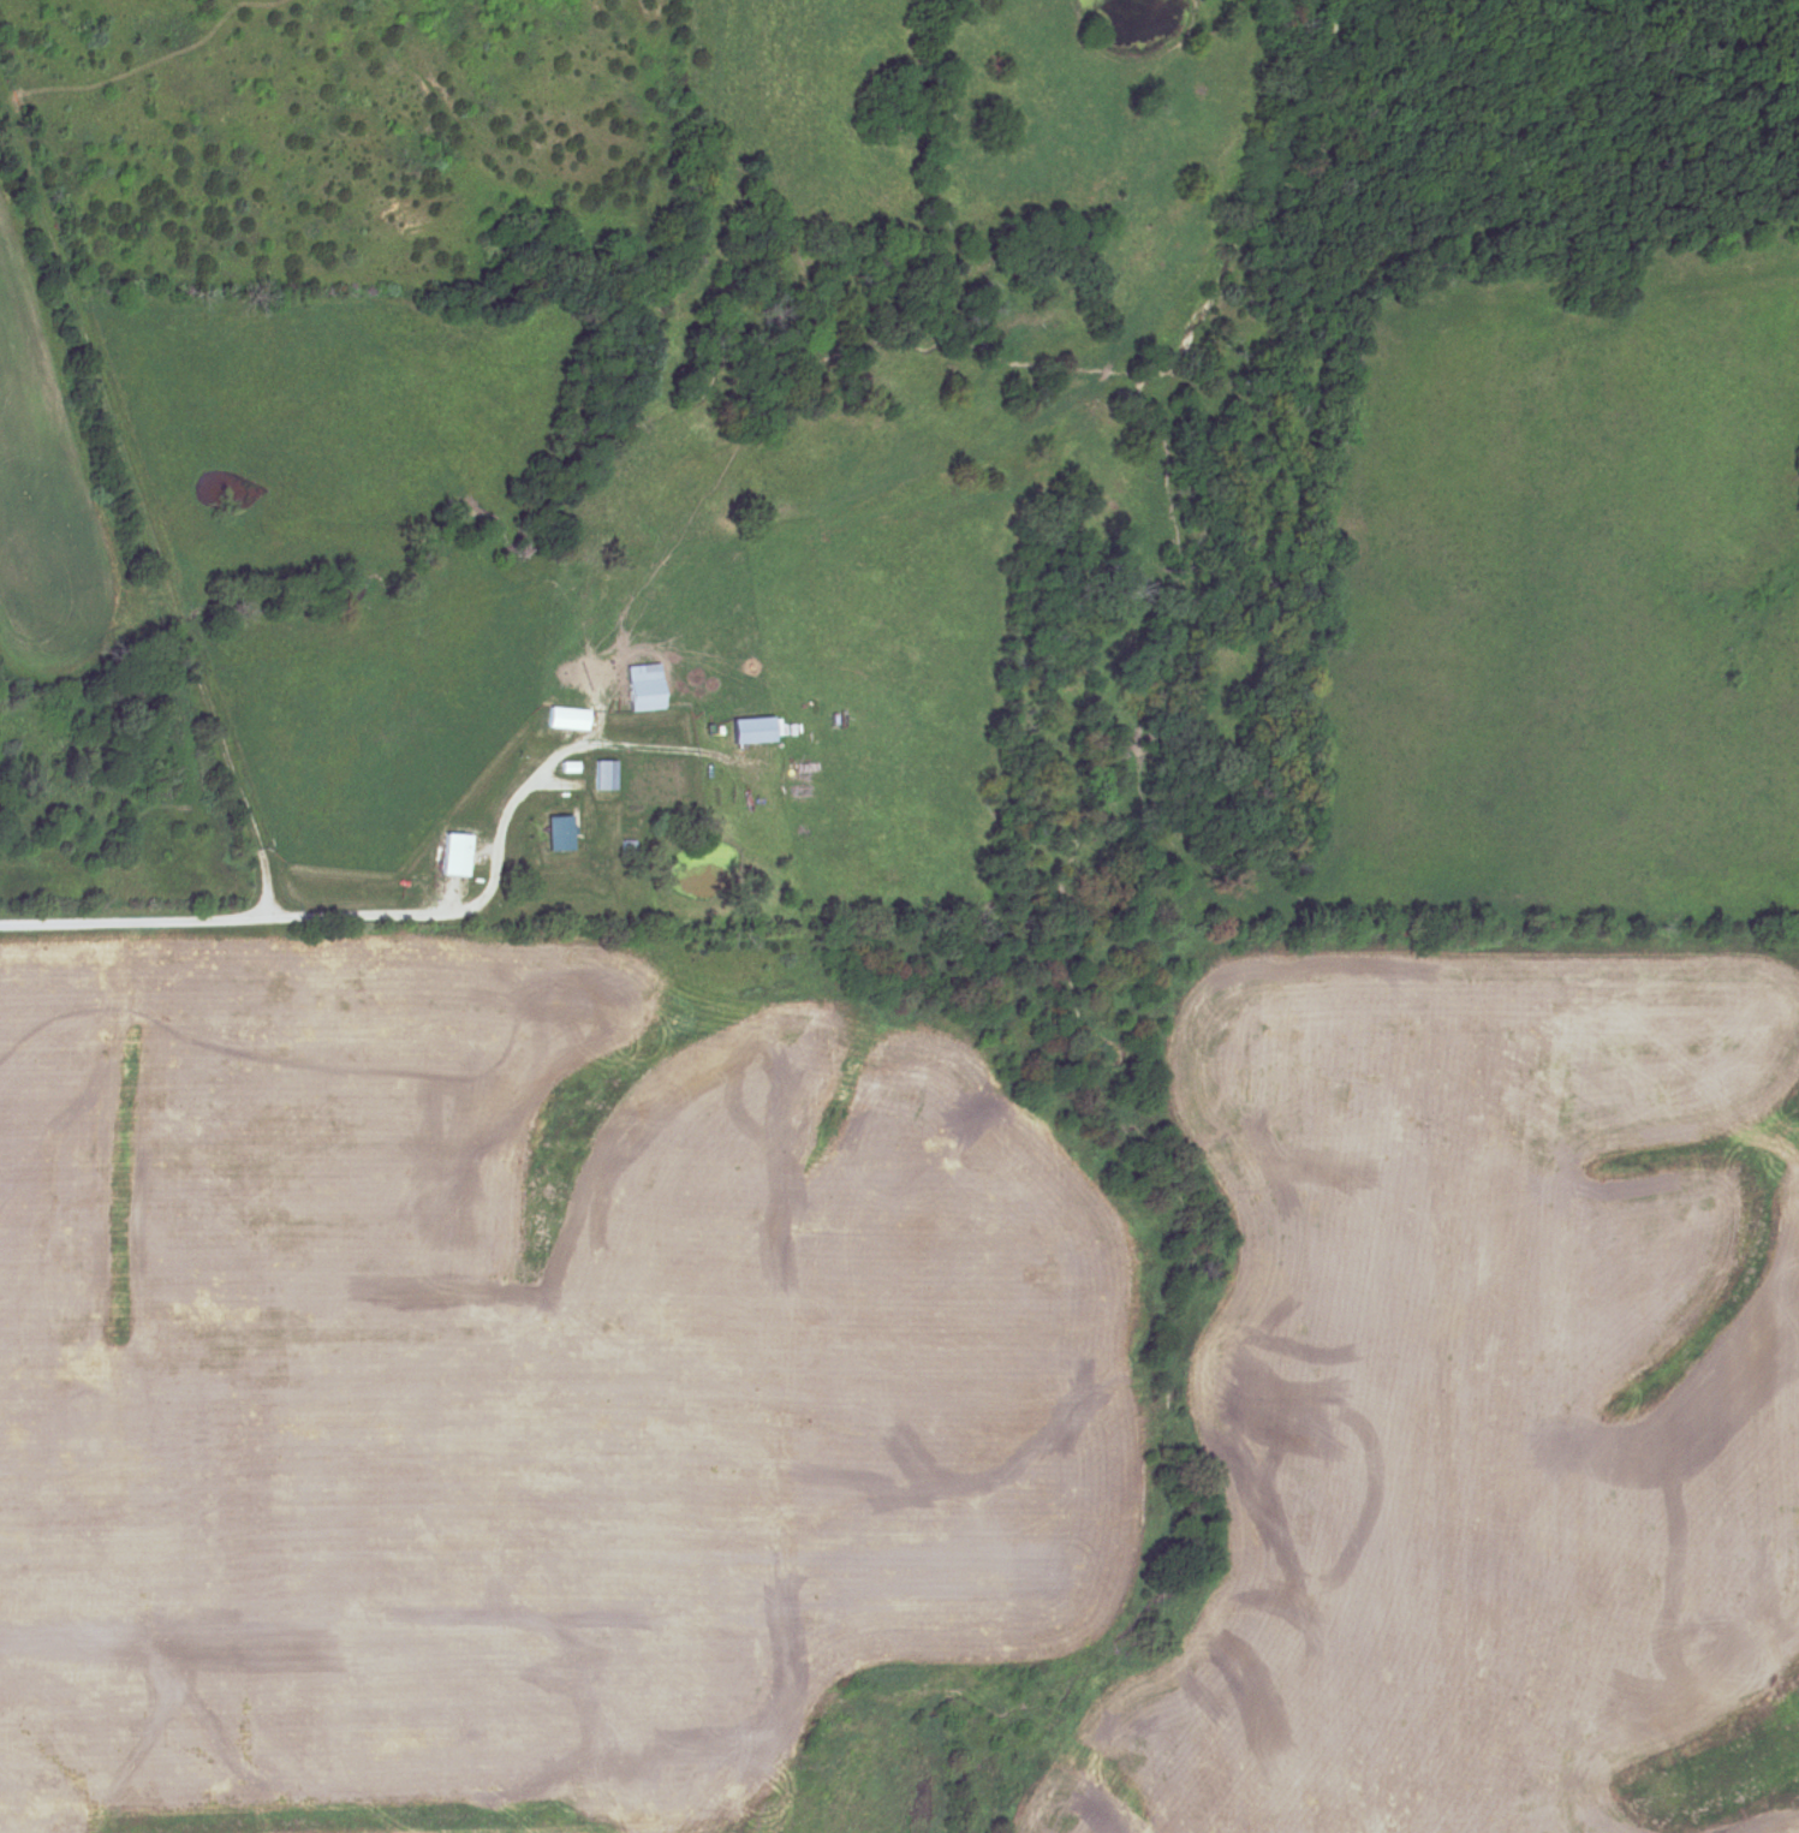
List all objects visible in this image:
park: (1264, 353)
road: (141, 504)
building: (644, 688)
building: (568, 719)
building: (752, 730)
building: (604, 774)
building: (560, 832)
building: (457, 853)
road: (279, 917)
park: (1791, 1696)

